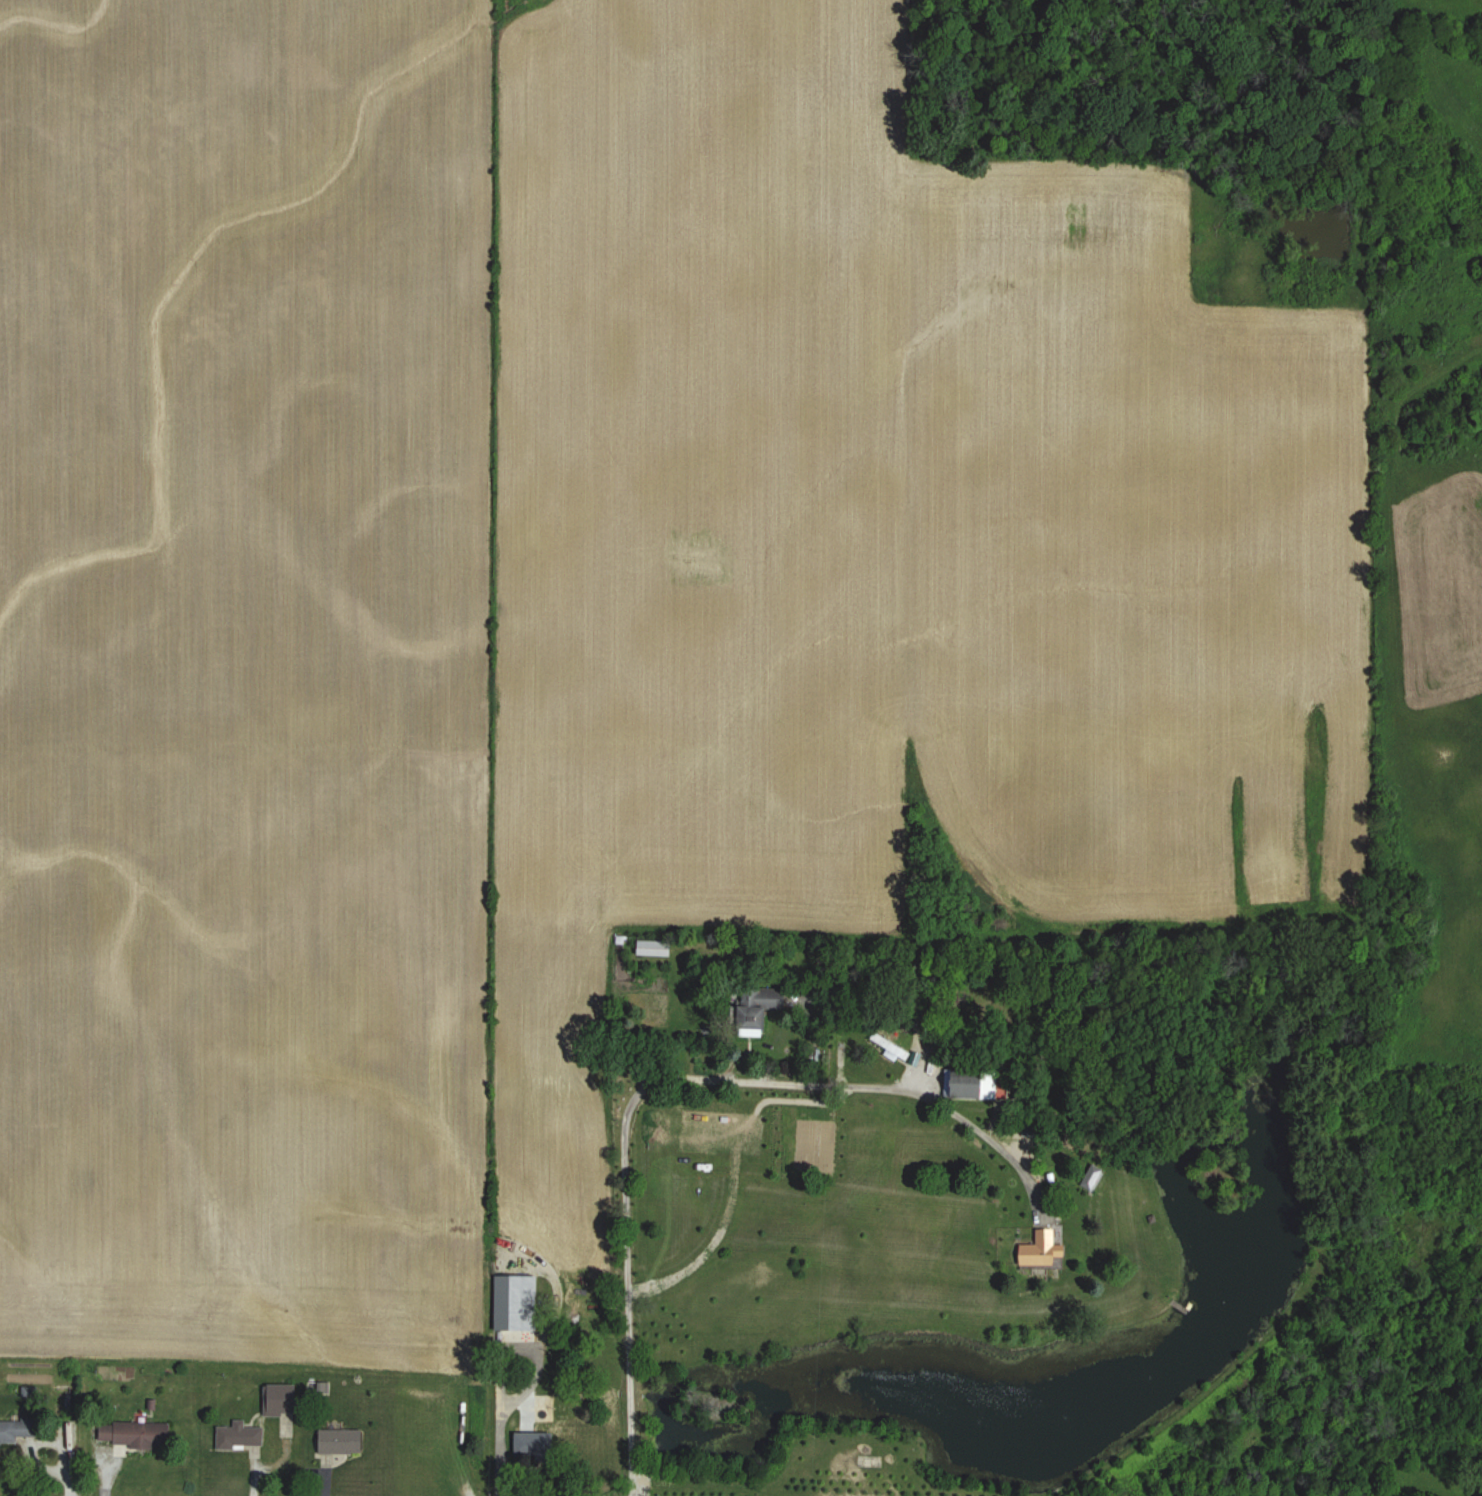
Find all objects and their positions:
building: (658, 949)
building: (765, 1010)
building: (892, 1047)
road: (662, 1078)
building: (983, 1087)
building: (1095, 1178)
building: (1046, 1251)
building: (519, 1304)
building: (321, 1390)
building: (285, 1400)
building: (544, 1410)
building: (20, 1432)
building: (137, 1435)
building: (242, 1436)
building: (345, 1442)
building: (540, 1446)

